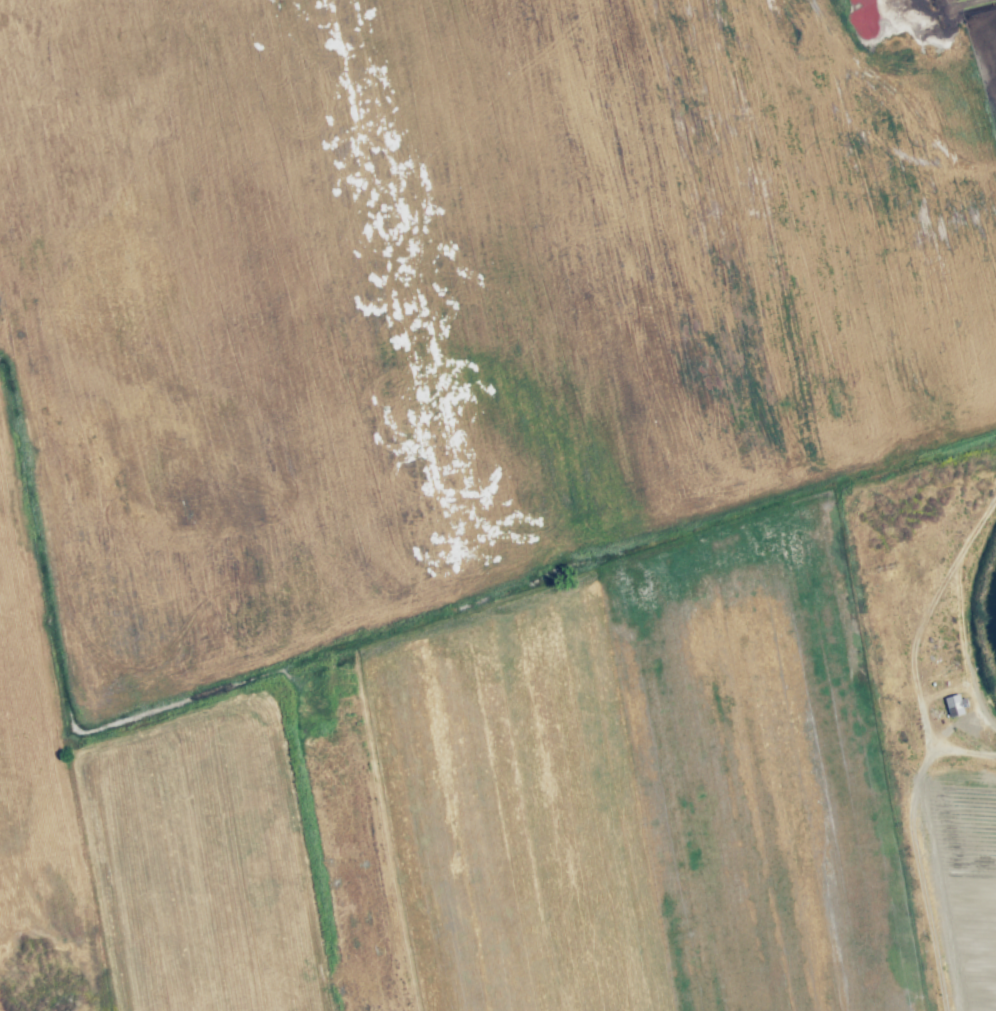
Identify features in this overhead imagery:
building: (955, 704)

